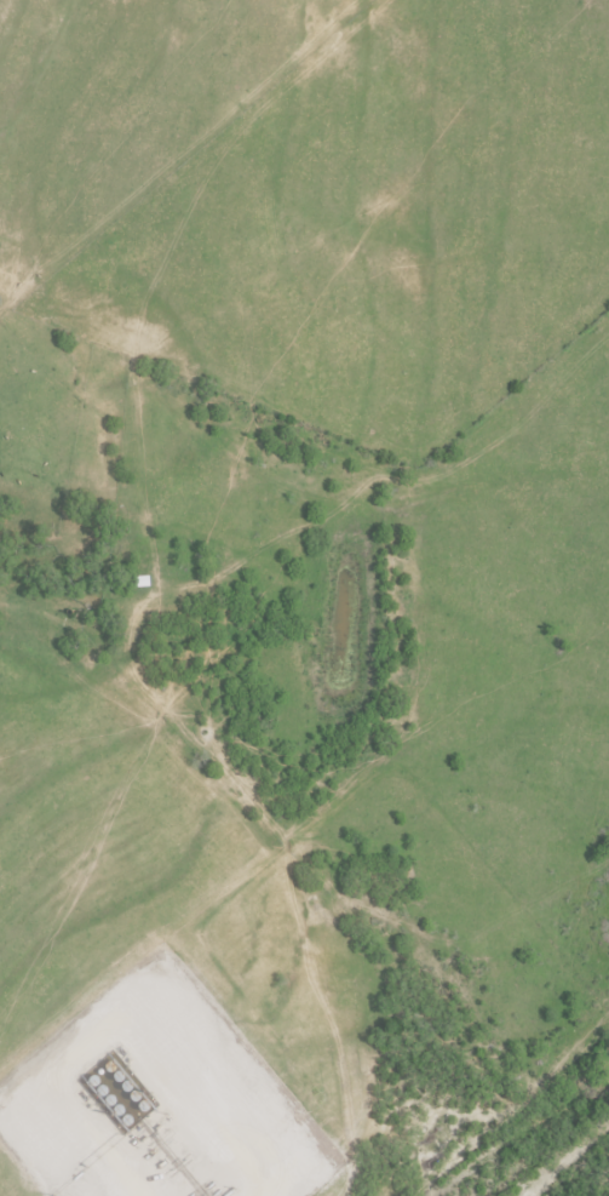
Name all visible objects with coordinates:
road: (62, 1078)

